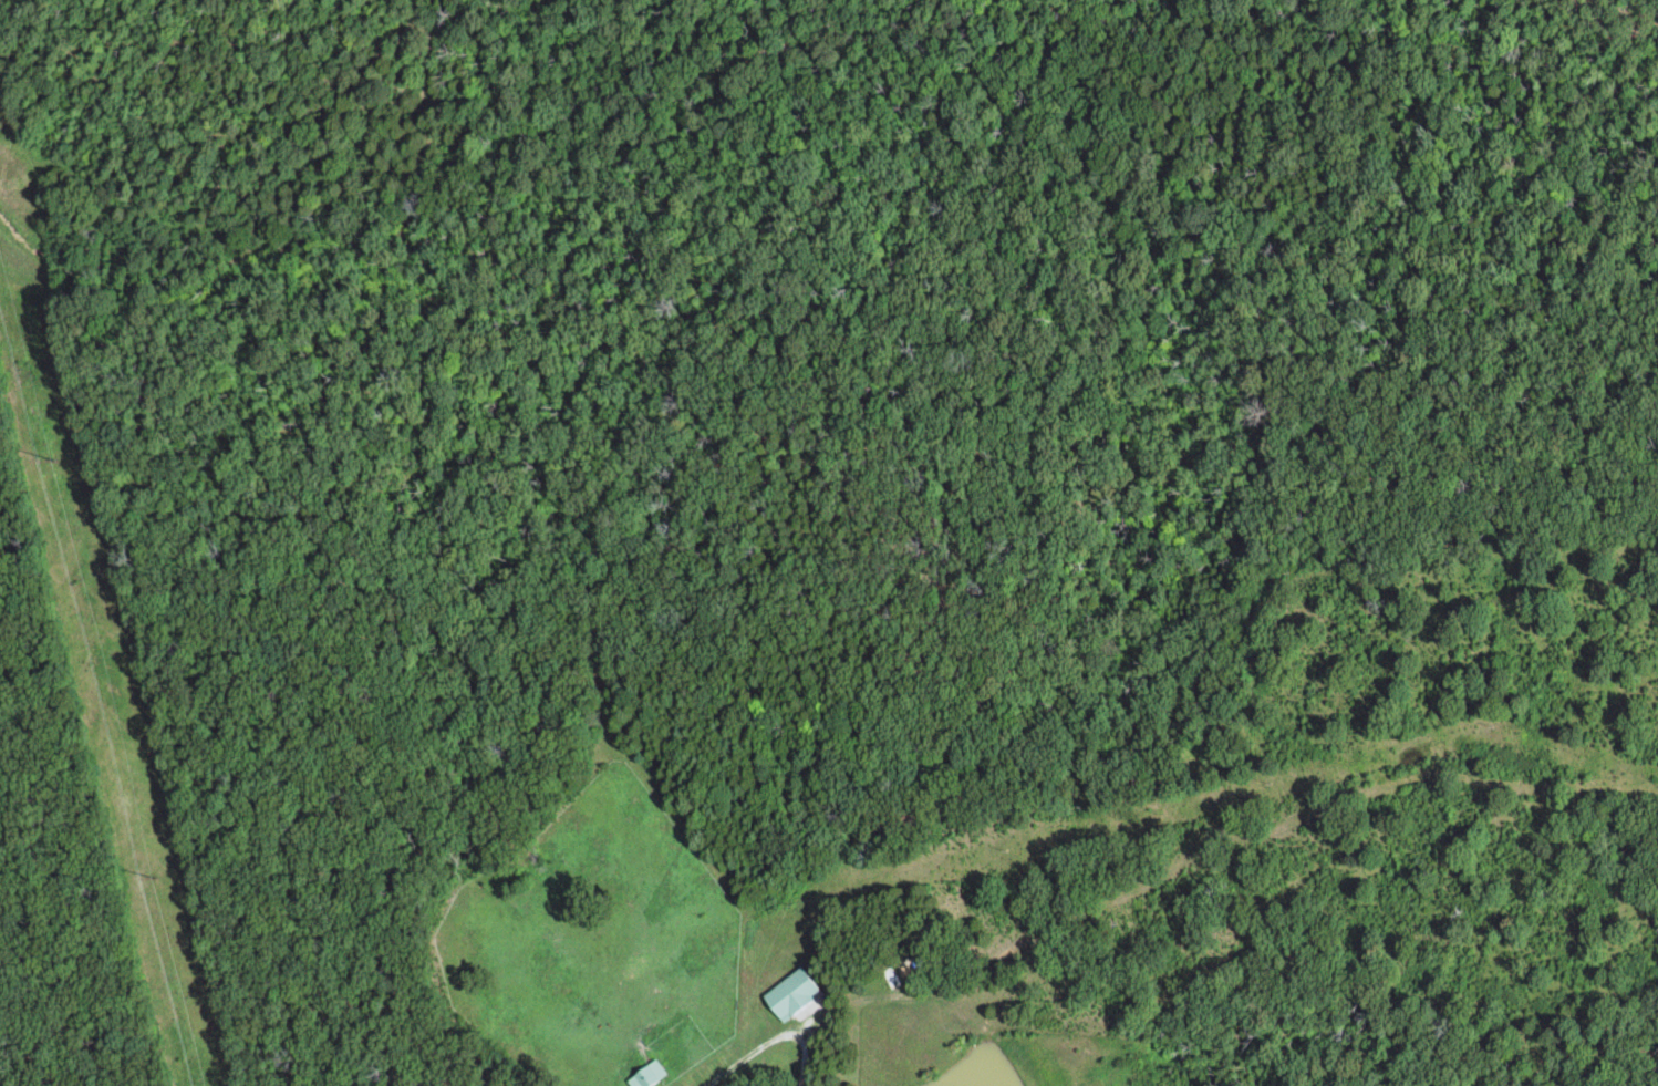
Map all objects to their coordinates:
building: (904, 980)
building: (795, 995)
building: (651, 1076)

